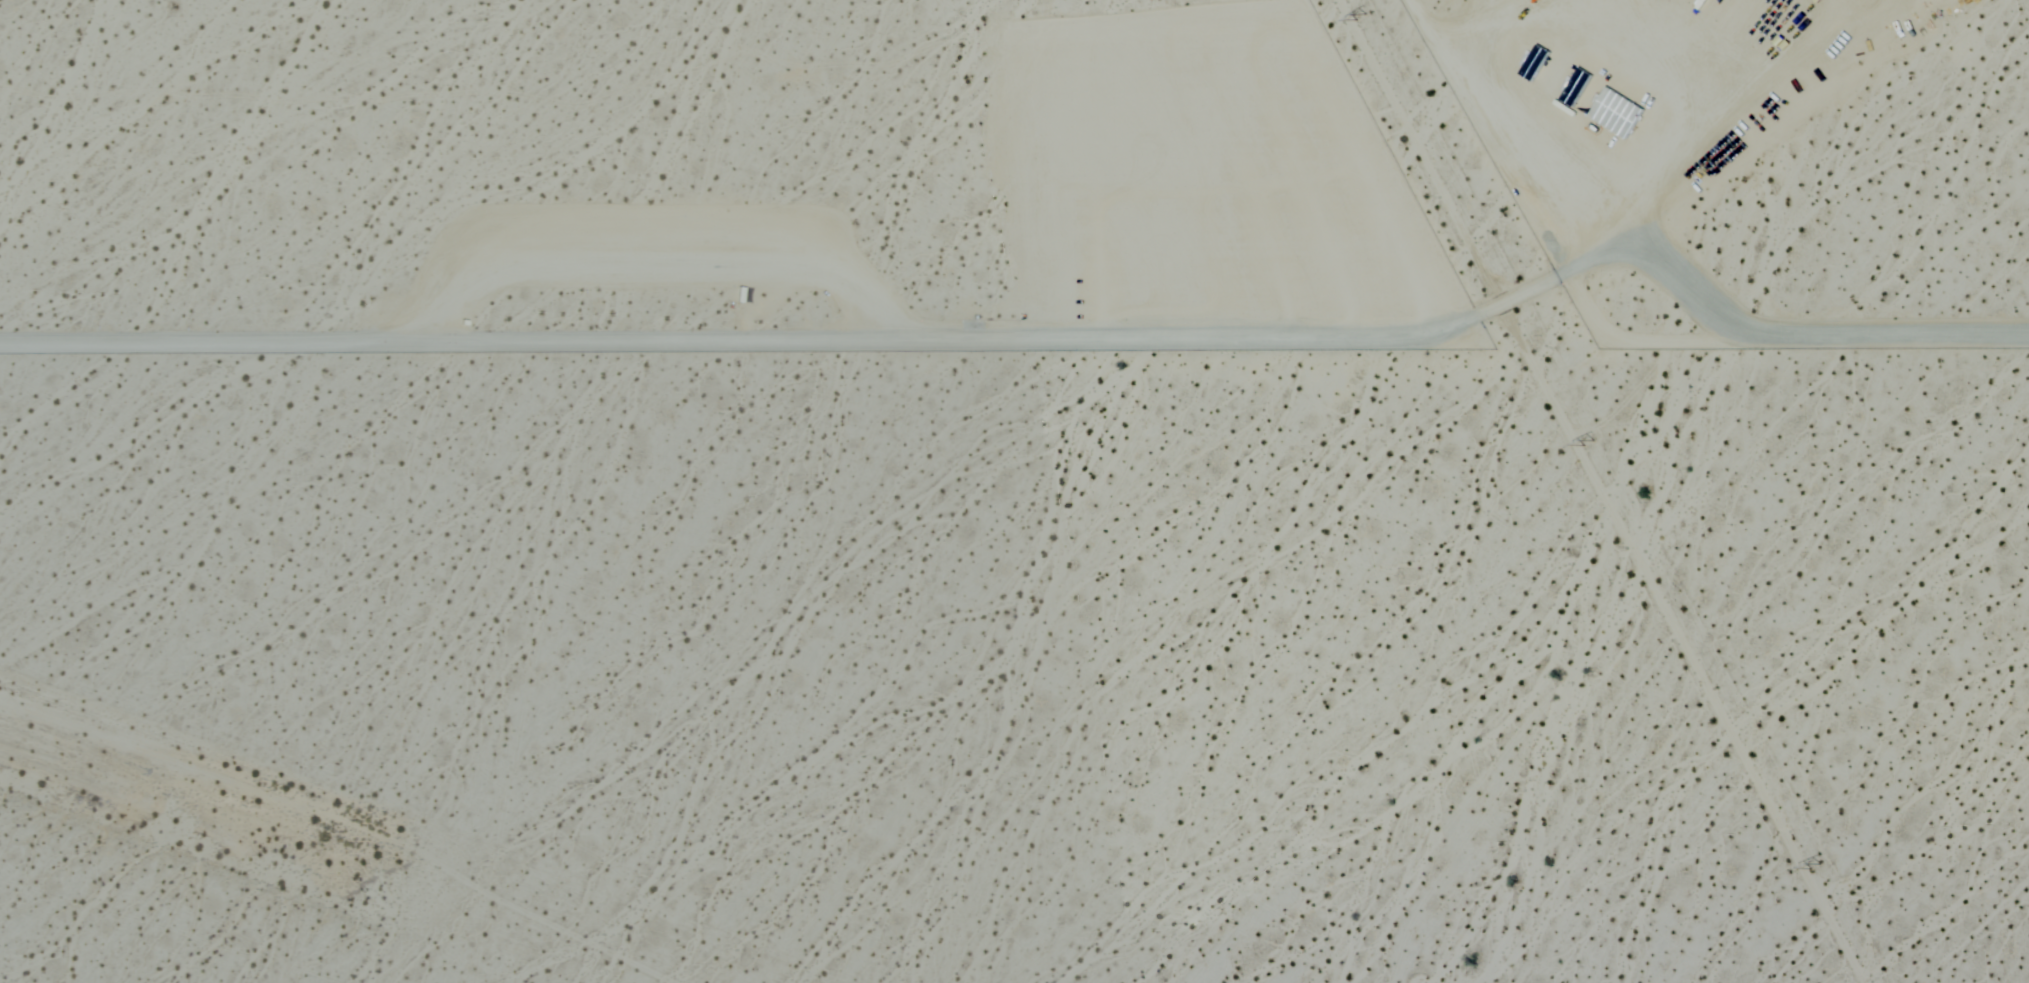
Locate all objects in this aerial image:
power tower: (1365, 17)
solar farm: (989, 174)
road: (1748, 325)
power tower: (1592, 444)
road: (1598, 491)
power tower: (1817, 865)

